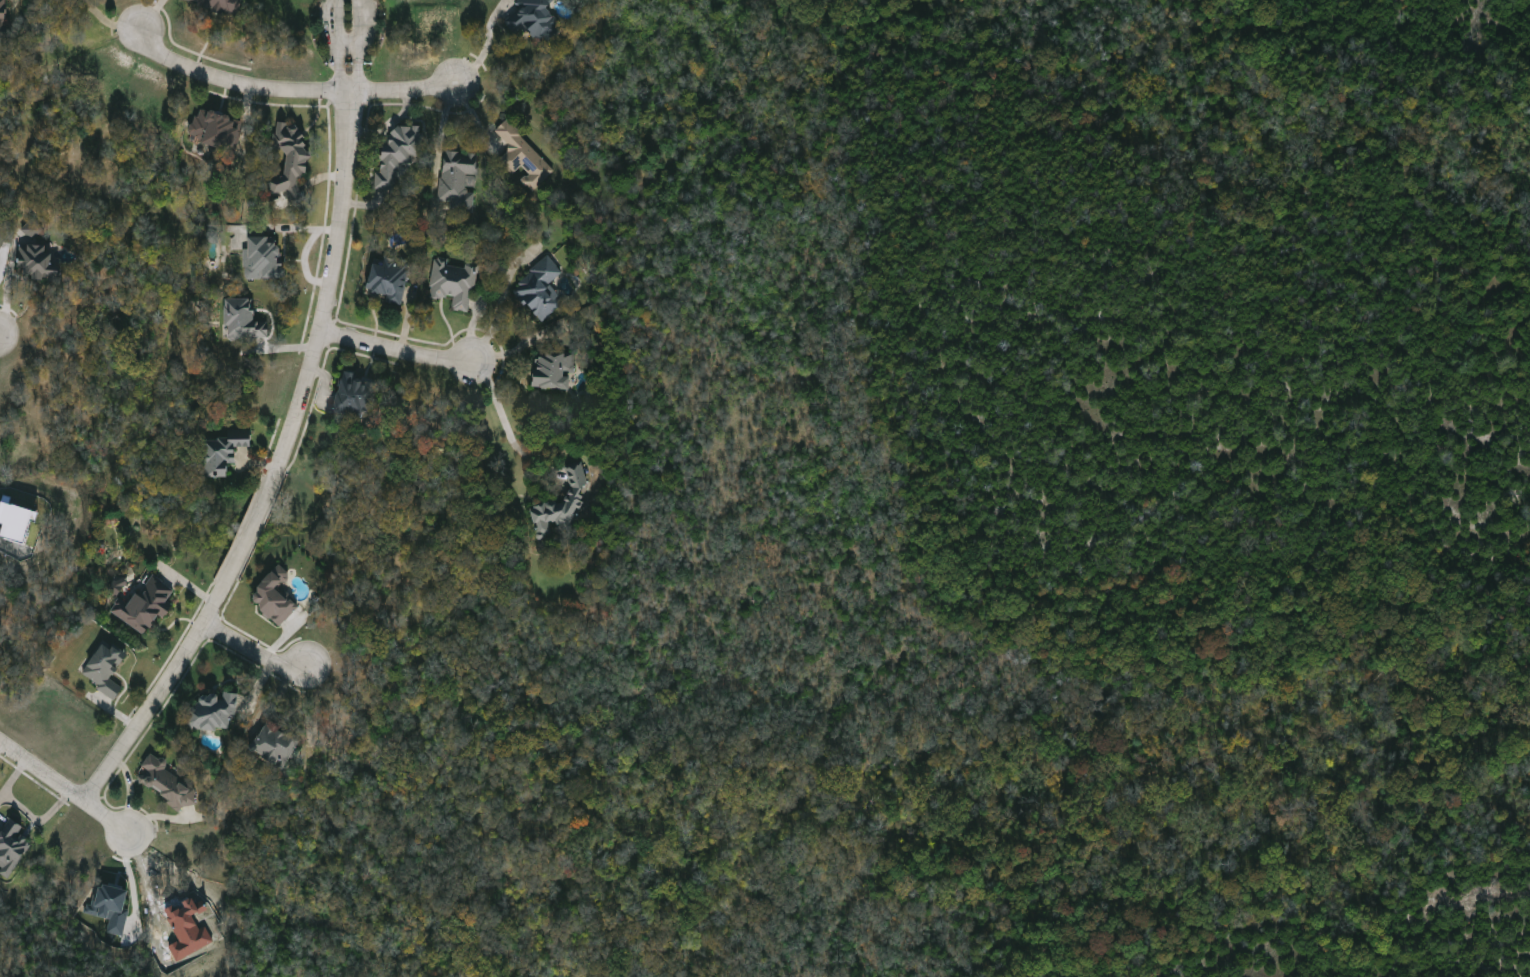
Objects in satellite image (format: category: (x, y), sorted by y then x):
building: (2, 2)
building: (217, 5)
building: (3, 19)
building: (534, 19)
road: (104, 21)
road: (346, 32)
road: (485, 44)
road: (287, 89)
building: (216, 129)
building: (398, 155)
building: (523, 157)
building: (291, 160)
building: (458, 180)
building: (263, 258)
building: (38, 259)
building: (389, 279)
building: (453, 283)
building: (540, 290)
building: (243, 321)
road: (394, 351)
building: (554, 370)
building: (357, 397)
road: (502, 420)
building: (226, 453)
road: (282, 456)
building: (561, 506)
building: (276, 597)
building: (144, 606)
road: (253, 651)
building: (105, 668)
building: (214, 711)
building: (277, 744)
building: (167, 781)
road: (64, 787)
building: (11, 847)

